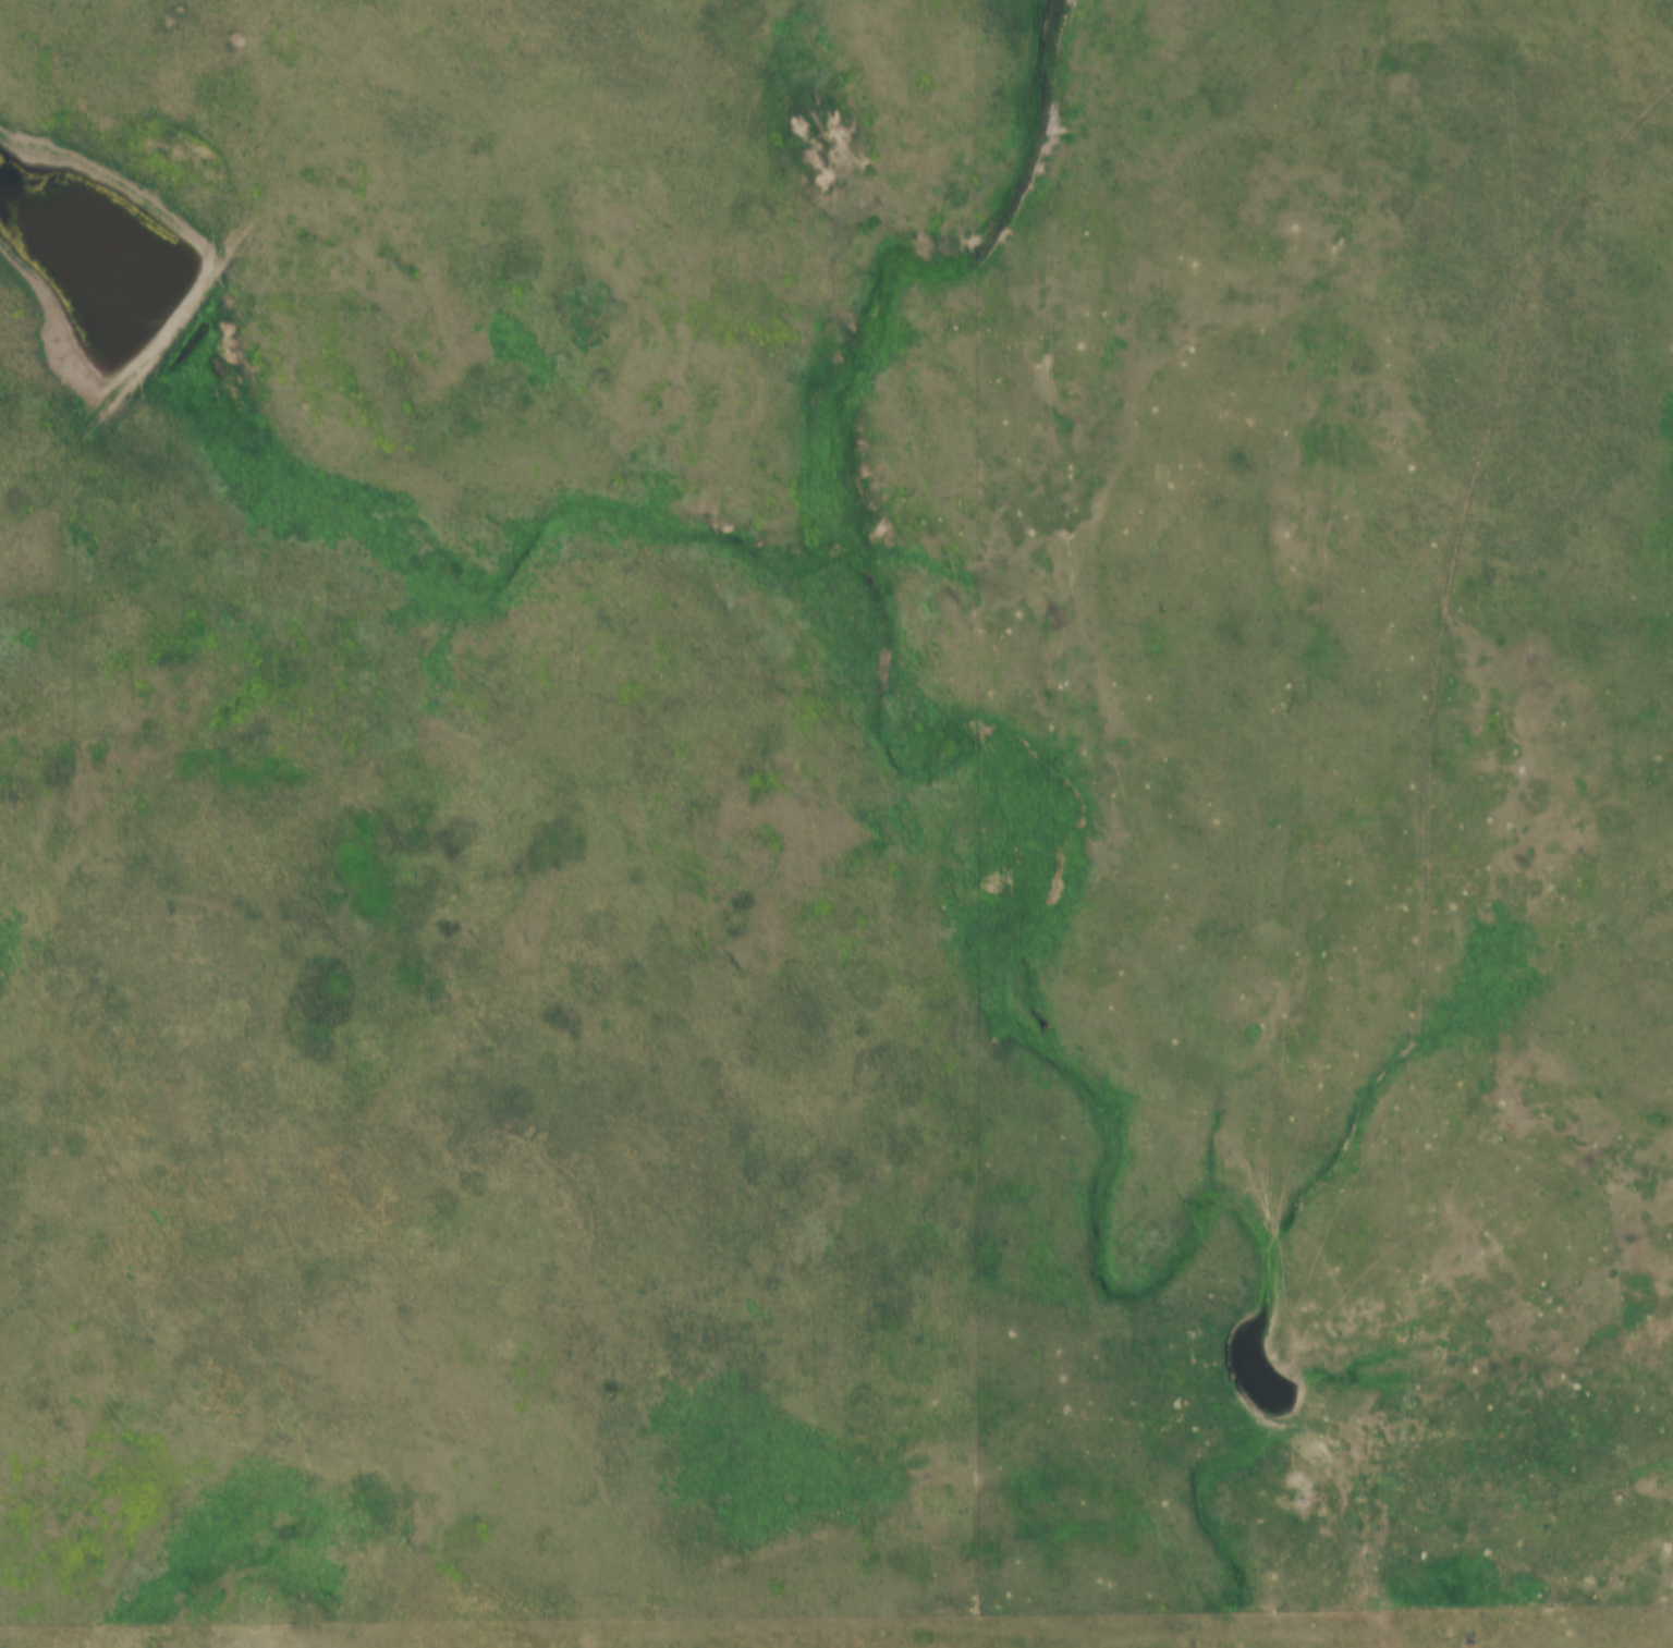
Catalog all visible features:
road: (984, 807)
road: (1424, 835)
road: (836, 1619)
road: (1391, 1638)

